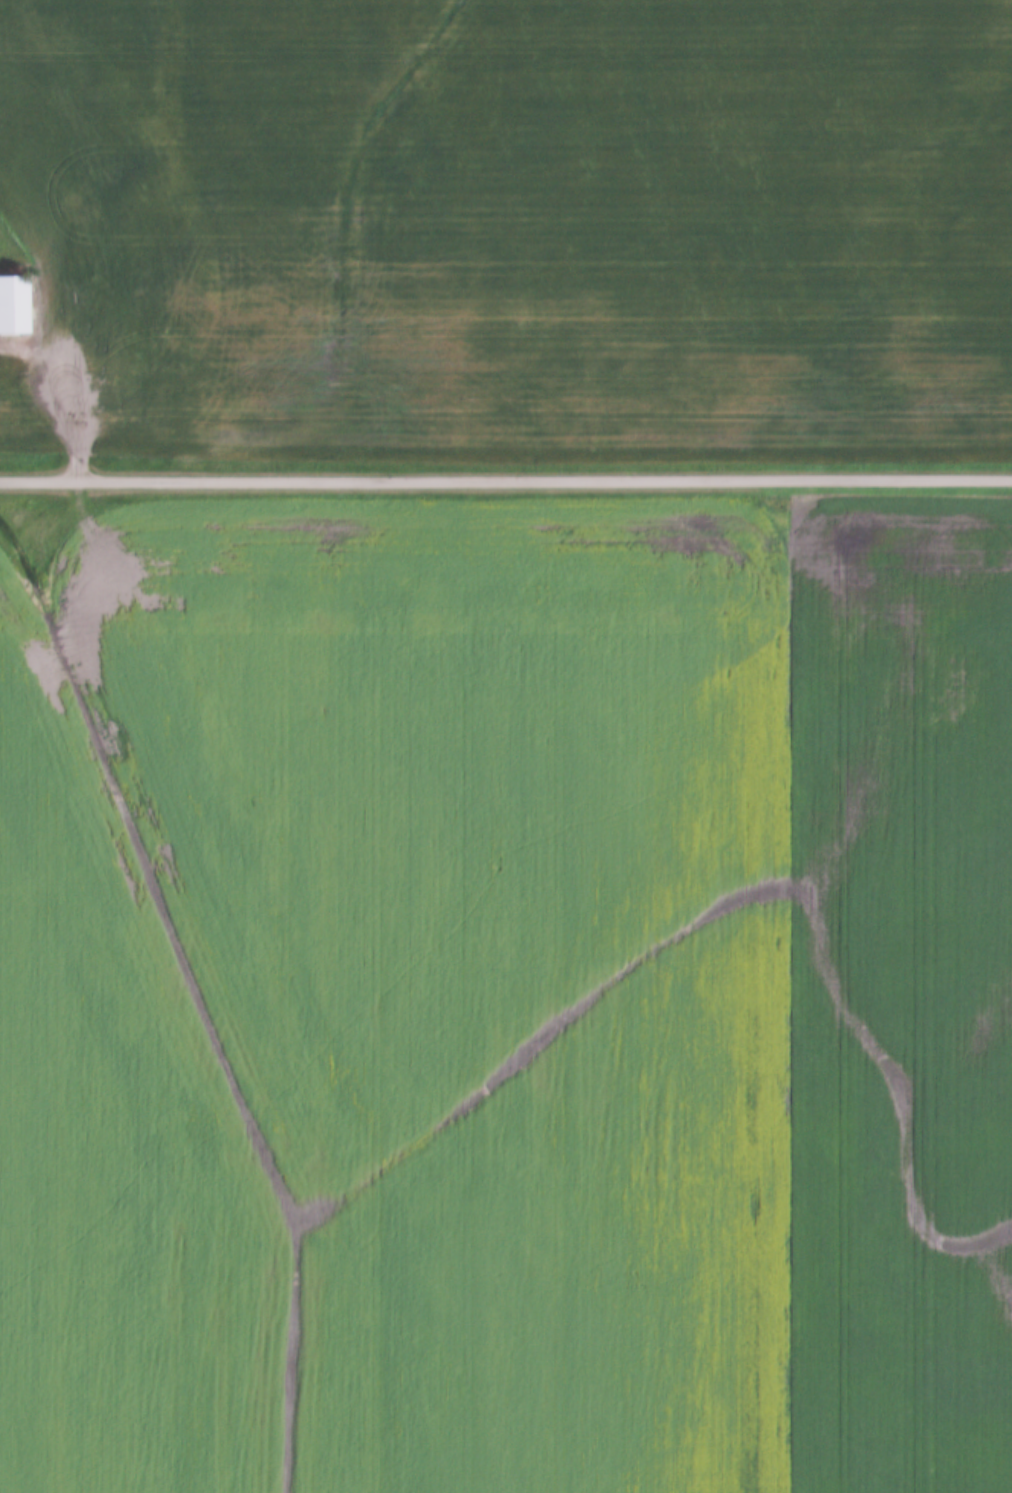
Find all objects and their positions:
building: (14, 303)
road: (505, 476)

